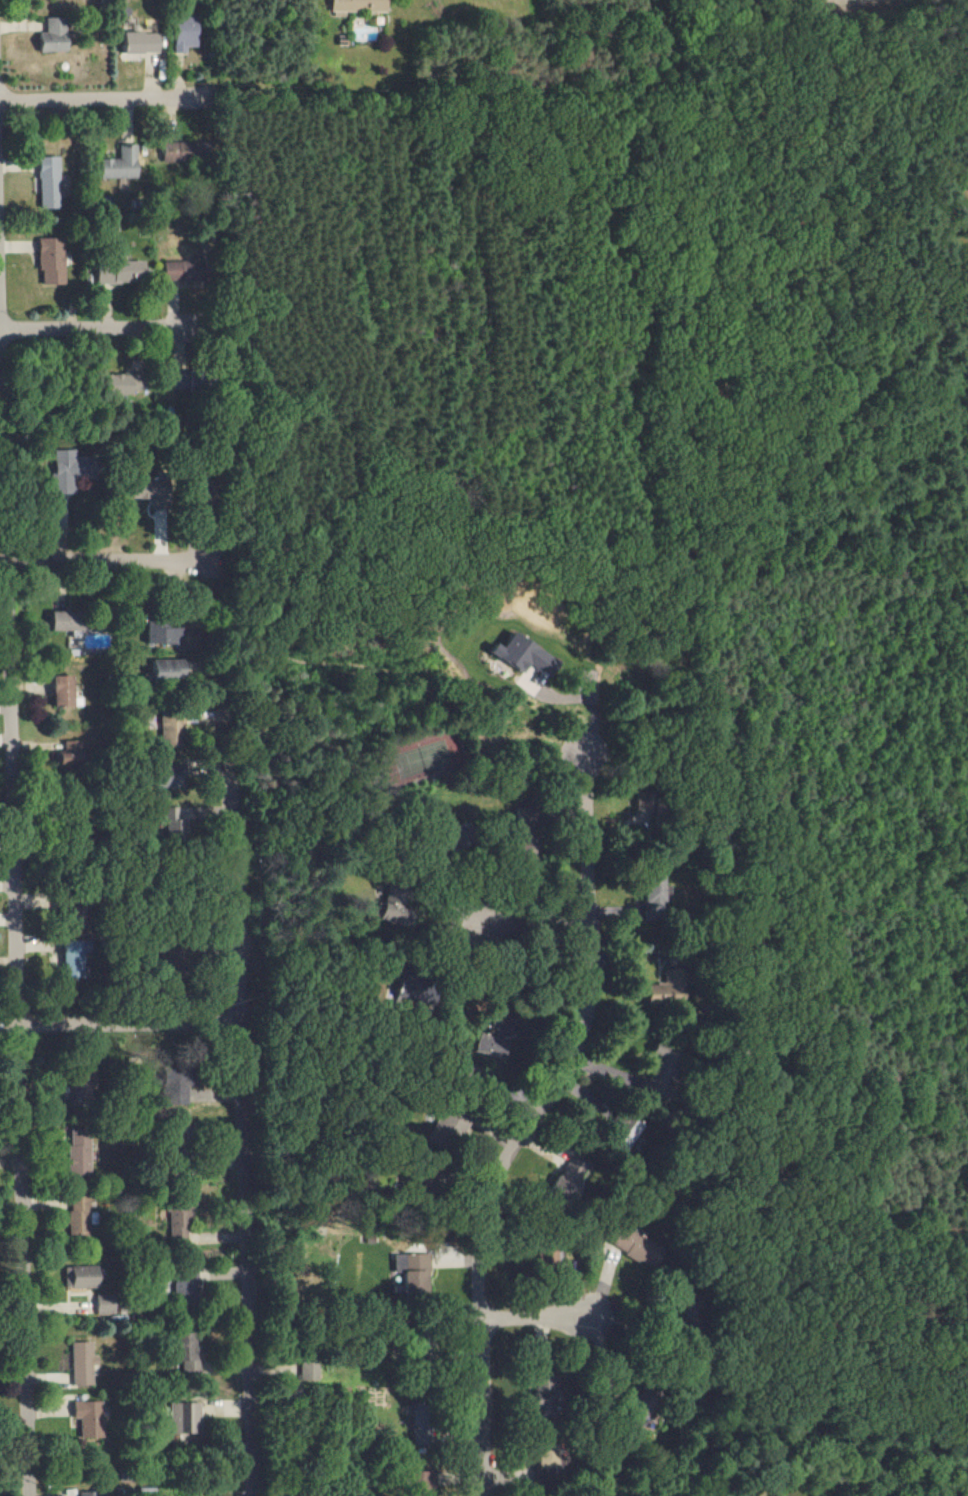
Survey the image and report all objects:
building: (358, 6)
building: (54, 35)
building: (183, 35)
building: (143, 42)
road: (93, 99)
building: (173, 151)
building: (121, 163)
building: (53, 260)
building: (177, 270)
building: (121, 272)
road: (3, 309)
road: (98, 329)
building: (123, 383)
building: (64, 470)
building: (150, 490)
road: (110, 563)
road: (5, 564)
building: (66, 620)
building: (158, 633)
building: (523, 654)
building: (166, 670)
building: (66, 692)
road: (588, 710)
building: (171, 729)
building: (71, 753)
park: (421, 758)
building: (178, 821)
building: (448, 842)
building: (653, 895)
building: (400, 902)
road: (520, 921)
building: (77, 957)
building: (668, 989)
building: (422, 993)
road: (120, 1024)
road: (23, 1029)
building: (496, 1031)
building: (662, 1071)
road: (242, 1078)
building: (173, 1087)
building: (443, 1131)
building: (625, 1131)
road: (525, 1135)
building: (186, 1148)
building: (77, 1151)
building: (569, 1182)
building: (77, 1215)
building: (178, 1224)
building: (641, 1245)
building: (413, 1271)
building: (82, 1276)
building: (111, 1304)
road: (550, 1320)
building: (187, 1353)
building: (83, 1363)
building: (307, 1370)
building: (184, 1417)
building: (89, 1418)
building: (425, 1422)
building: (93, 1494)

